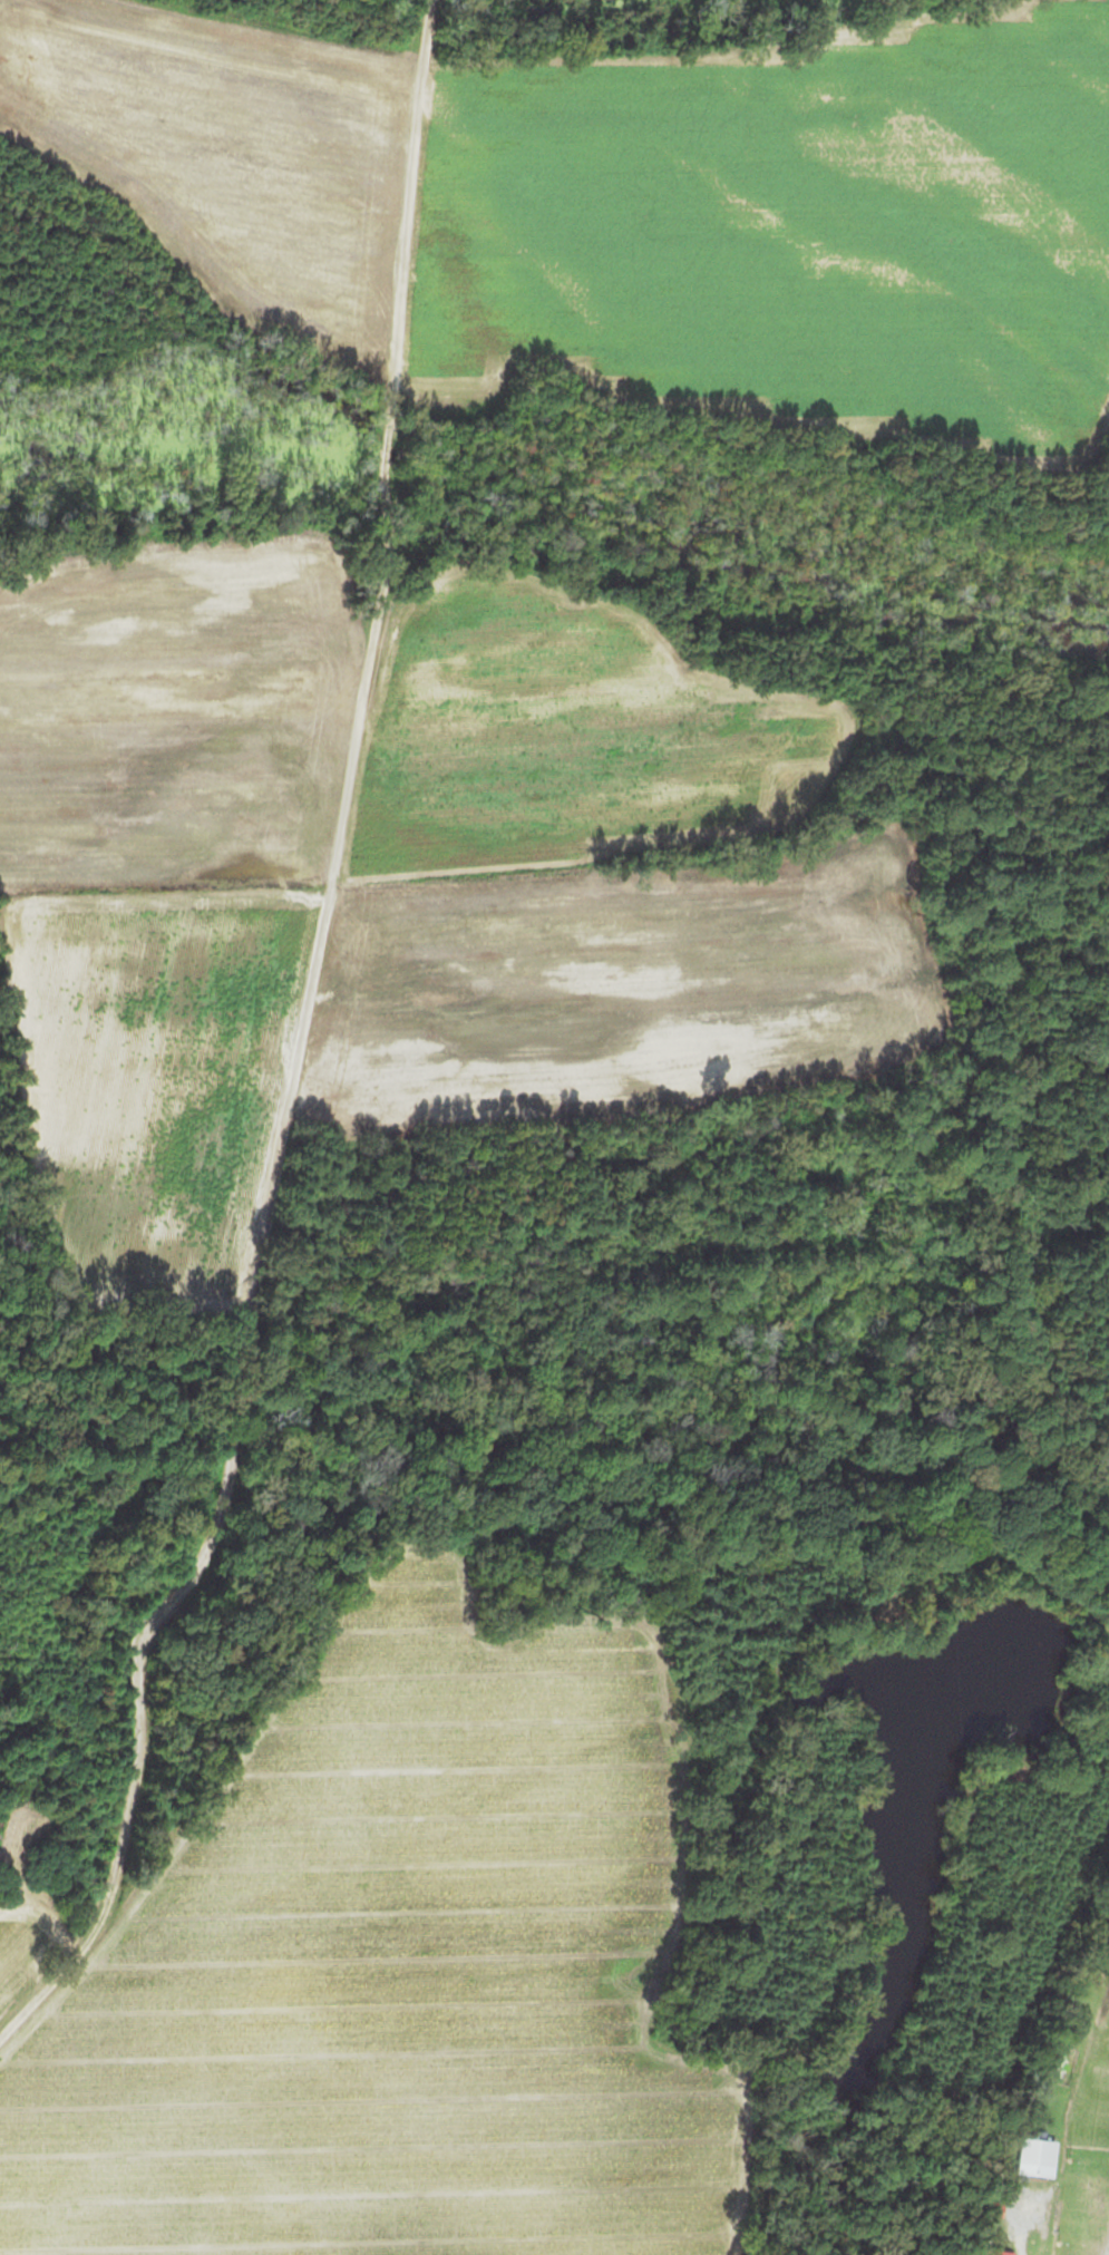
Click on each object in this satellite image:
road: (142, 1857)
building: (1031, 2156)
building: (1084, 2188)

